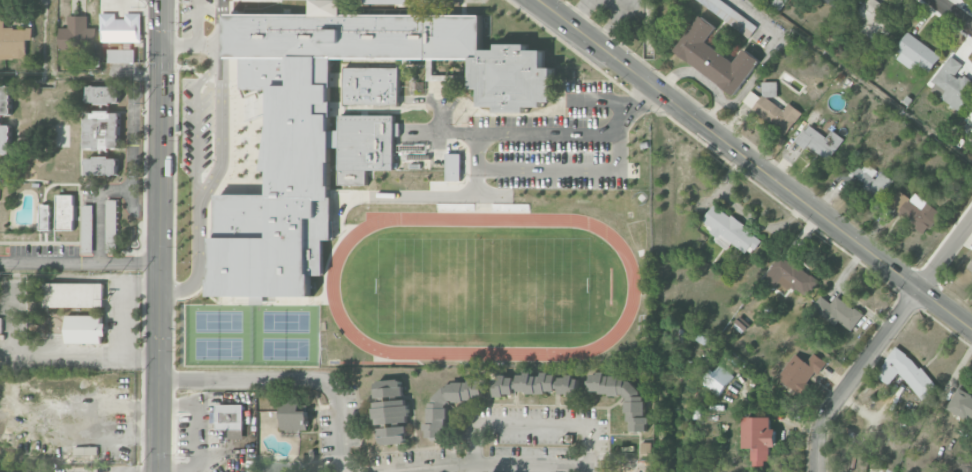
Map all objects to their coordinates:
building: (389, 2)
road: (580, 13)
road: (952, 14)
building: (731, 16)
road: (616, 21)
building: (874, 21)
building: (120, 28)
building: (77, 35)
road: (197, 40)
building: (13, 41)
building: (915, 54)
building: (120, 55)
building: (715, 57)
road: (763, 61)
road: (693, 72)
road: (862, 84)
building: (952, 85)
building: (372, 86)
building: (775, 109)
building: (0, 120)
building: (971, 125)
building: (102, 130)
building: (820, 142)
building: (416, 152)
building: (303, 158)
road: (220, 162)
road: (753, 164)
building: (453, 167)
road: (505, 169)
building: (868, 180)
road: (124, 188)
building: (914, 210)
building: (65, 212)
building: (45, 217)
building: (111, 226)
building: (87, 228)
building: (729, 231)
road: (159, 236)
road: (79, 261)
building: (969, 267)
building: (789, 277)
building: (73, 295)
road: (11, 310)
building: (838, 312)
road: (121, 319)
building: (85, 329)
road: (879, 341)
building: (801, 372)
building: (906, 373)
road: (290, 379)
building: (717, 379)
building: (535, 384)
building: (448, 402)
building: (961, 405)
building: (391, 411)
building: (636, 412)
building: (228, 417)
building: (293, 417)
road: (534, 424)
road: (198, 435)
building: (759, 438)
road: (483, 462)

